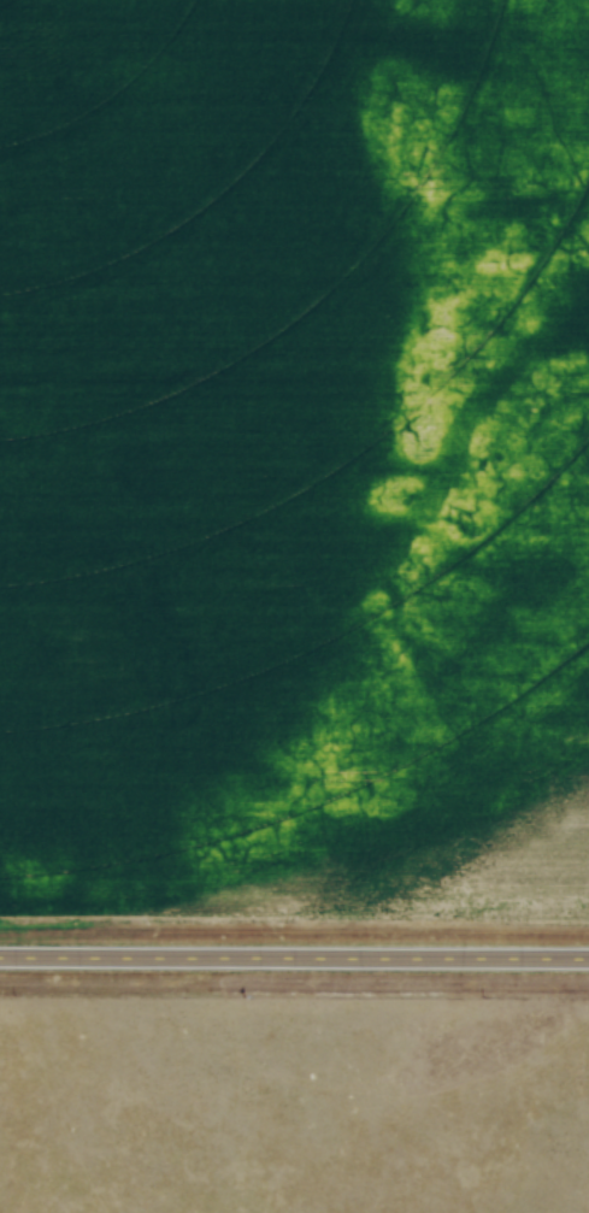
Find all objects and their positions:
road: (294, 959)

